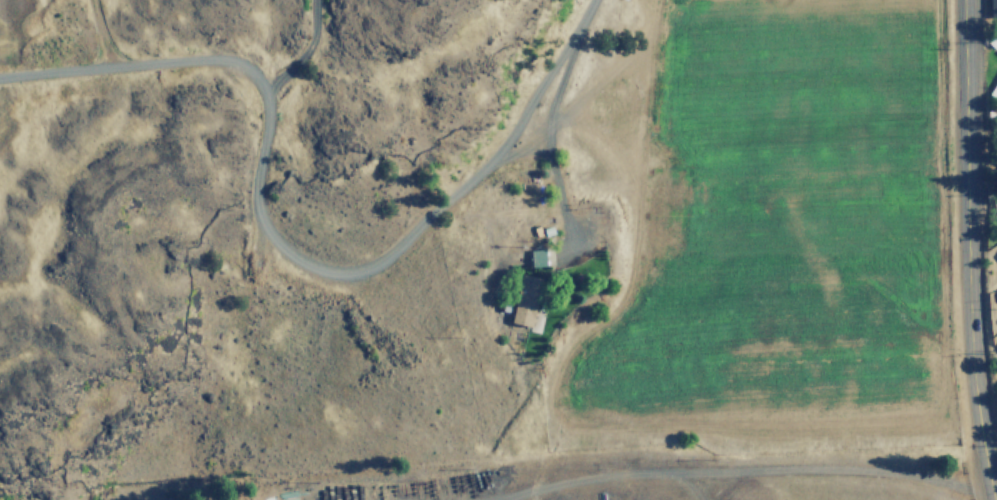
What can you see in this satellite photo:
building: (993, 8)
building: (993, 41)
building: (994, 92)
road: (283, 248)
road: (972, 250)
building: (996, 256)
building: (536, 258)
building: (996, 293)
building: (524, 300)

